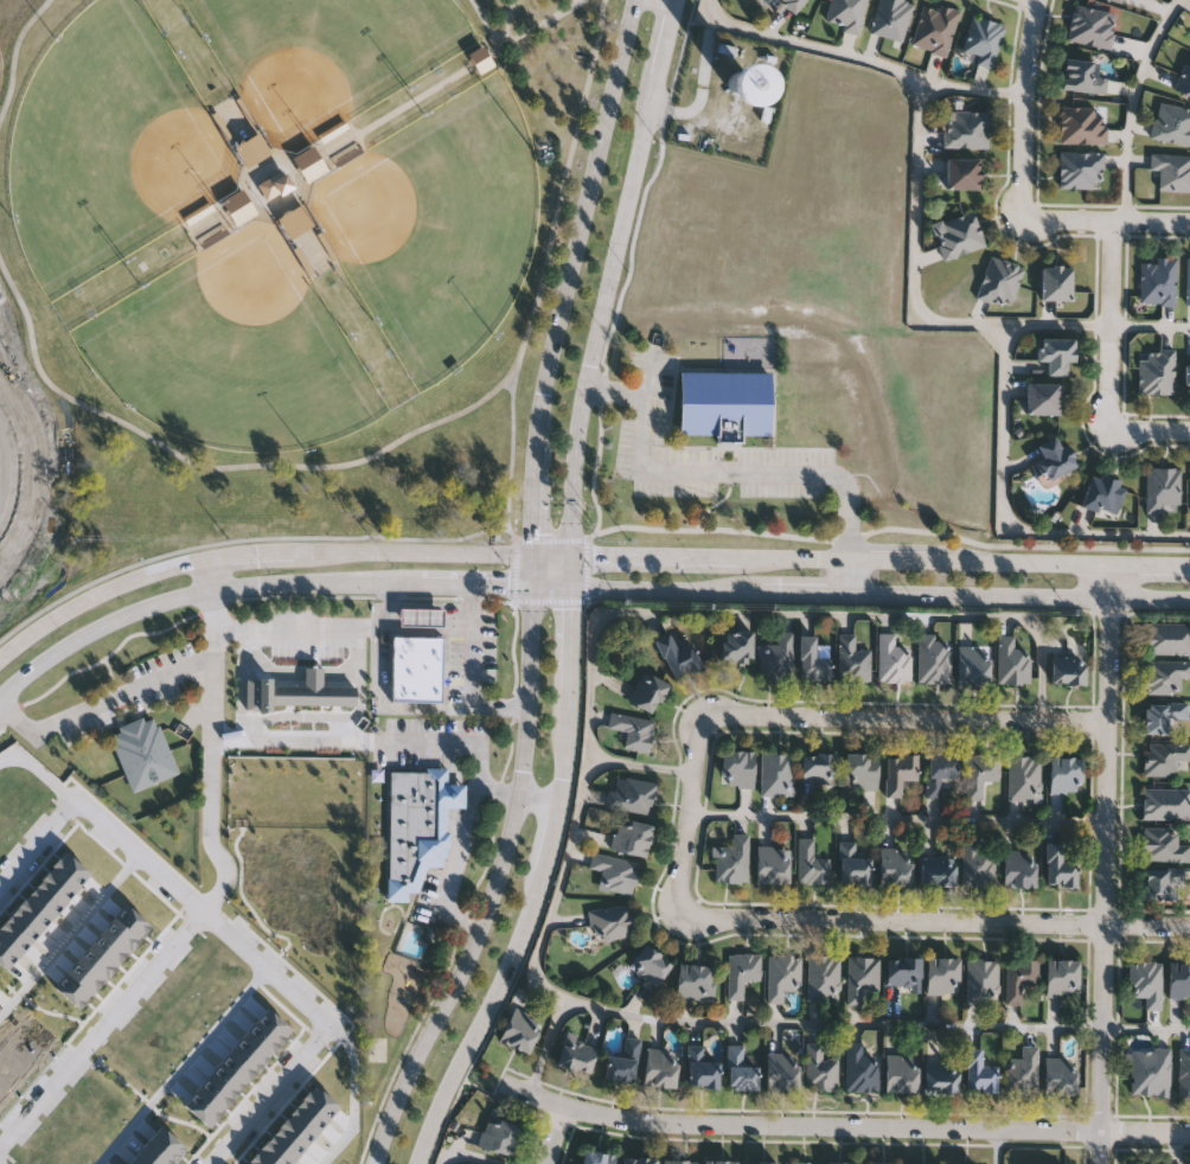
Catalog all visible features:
building: (1117, 0)
building: (793, 4)
building: (846, 14)
building: (890, 18)
road: (486, 24)
road: (505, 25)
road: (539, 25)
building: (1090, 26)
building: (934, 27)
building: (983, 40)
park: (326, 56)
road: (859, 58)
road: (15, 59)
building: (482, 62)
building: (1081, 77)
building: (1183, 79)
building: (748, 89)
water tower: (740, 95)
road: (1131, 104)
road: (1023, 105)
road: (396, 114)
building: (1171, 124)
building: (1081, 127)
building: (965, 130)
park: (110, 148)
building: (255, 151)
building: (312, 166)
building: (1079, 171)
building: (1171, 172)
building: (962, 173)
building: (274, 190)
road: (255, 200)
building: (241, 210)
road: (1107, 218)
building: (297, 223)
road: (581, 223)
park: (440, 225)
building: (959, 235)
park: (286, 256)
road: (625, 266)
building: (999, 282)
building: (1157, 282)
building: (1188, 282)
building: (1056, 283)
road: (607, 292)
road: (1111, 321)
road: (930, 324)
park: (235, 351)
building: (699, 351)
building: (1055, 354)
building: (1156, 373)
building: (1186, 376)
stadium: (4, 382)
building: (1044, 399)
road: (615, 402)
building: (724, 403)
road: (1151, 429)
road: (397, 443)
road: (510, 449)
building: (1054, 458)
parking lot: (716, 460)
road: (33, 467)
road: (684, 480)
building: (1160, 488)
building: (1102, 494)
road: (533, 503)
road: (1007, 512)
road: (855, 514)
road: (890, 530)
road: (590, 537)
road: (549, 538)
road: (243, 548)
road: (252, 554)
traffic signals: (532, 557)
road: (550, 557)
traffic signals: (568, 558)
road: (878, 558)
road: (586, 570)
road: (532, 571)
road: (512, 573)
road: (209, 575)
road: (852, 575)
road: (475, 584)
traffic signals: (532, 586)
road: (550, 587)
traffic signals: (568, 588)
road: (665, 589)
road: (807, 591)
road: (196, 594)
road: (1021, 594)
road: (548, 602)
road: (441, 612)
road: (796, 612)
building: (422, 619)
road: (293, 628)
building: (1167, 637)
building: (737, 646)
building: (678, 652)
building: (776, 657)
building: (934, 657)
building: (852, 658)
building: (892, 658)
building: (812, 660)
building: (1011, 660)
road: (469, 664)
building: (973, 665)
building: (1068, 667)
building: (416, 670)
building: (1165, 674)
building: (648, 691)
building: (292, 696)
road: (121, 697)
road: (388, 710)
building: (1162, 715)
road: (812, 716)
road: (15, 721)
building: (633, 729)
road: (450, 743)
road: (299, 749)
building: (140, 754)
road: (207, 755)
building: (1163, 756)
road: (641, 765)
building: (819, 767)
building: (737, 768)
building: (862, 770)
building: (900, 770)
building: (939, 772)
building: (775, 773)
building: (980, 773)
building: (1066, 773)
road: (36, 776)
building: (1023, 776)
building: (629, 793)
building: (1165, 802)
road: (512, 817)
road: (898, 818)
building: (416, 826)
building: (632, 836)
road: (460, 837)
road: (38, 842)
building: (1163, 844)
building: (774, 856)
building: (731, 859)
road: (1106, 862)
building: (811, 863)
building: (853, 863)
building: (975, 863)
building: (1058, 864)
building: (895, 865)
building: (66, 866)
building: (1019, 868)
building: (615, 870)
building: (936, 871)
building: (56, 880)
building: (1160, 882)
road: (559, 884)
road: (535, 885)
building: (44, 894)
road: (245, 907)
building: (32, 908)
road: (204, 910)
building: (128, 920)
building: (20, 921)
building: (610, 921)
road: (938, 921)
building: (116, 934)
building: (11, 936)
road: (70, 938)
building: (104, 948)
building: (5, 954)
building: (92, 962)
building: (651, 964)
building: (903, 970)
building: (741, 971)
building: (942, 973)
building: (782, 974)
building: (79, 976)
building: (823, 976)
building: (862, 976)
building: (1062, 976)
building: (1019, 977)
building: (1179, 978)
building: (983, 979)
building: (695, 980)
building: (1146, 981)
building: (69, 990)
road: (833, 1022)
building: (268, 1024)
building: (37, 1029)
building: (519, 1029)
road: (1146, 1029)
road: (102, 1031)
building: (257, 1037)
building: (24, 1042)
road: (549, 1044)
building: (576, 1050)
building: (245, 1051)
building: (13, 1056)
building: (623, 1060)
building: (233, 1064)
road: (185, 1066)
building: (702, 1066)
building: (660, 1067)
building: (820, 1067)
building: (860, 1067)
building: (738, 1068)
building: (1022, 1068)
road: (484, 1069)
building: (781, 1070)
building: (979, 1070)
building: (1150, 1070)
building: (1184, 1070)
building: (901, 1073)
building: (7, 1074)
building: (1060, 1075)
building: (941, 1076)
building: (222, 1079)
building: (2, 1089)
building: (210, 1093)
road: (273, 1094)
road: (350, 1096)
road: (399, 1098)
building: (314, 1102)
building: (198, 1107)
building: (303, 1117)
road: (844, 1126)
building: (292, 1131)
building: (499, 1132)
road: (558, 1137)
building: (166, 1145)
building: (280, 1145)
road: (997, 1147)
building: (265, 1155)
building: (152, 1156)
road: (472, 1156)
building: (597, 1157)
building: (639, 1159)
building: (136, 1160)
building: (251, 1160)
building: (679, 1160)
building: (721, 1160)
building: (761, 1162)
building: (800, 1162)
building: (840, 1162)
building: (879, 1162)
building: (921, 1162)
building: (961, 1163)
building: (1042, 1163)

